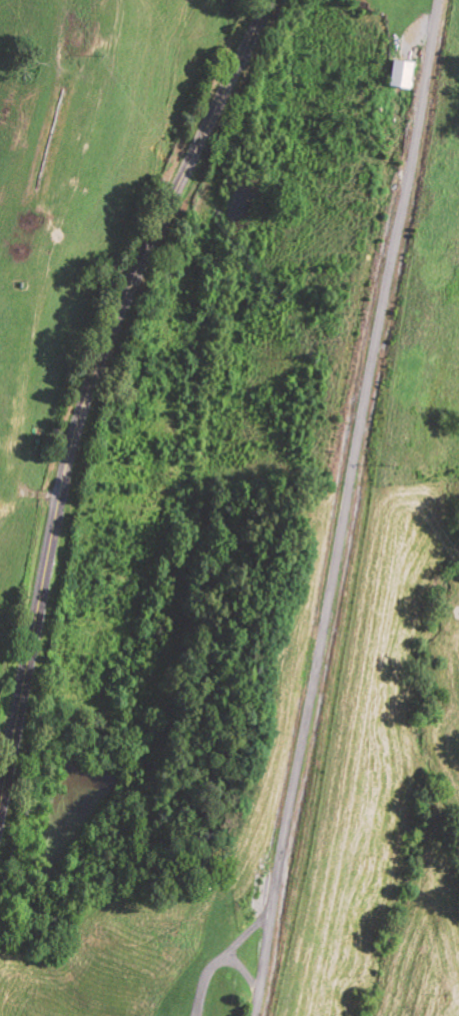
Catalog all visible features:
building: (401, 76)
road: (89, 390)
road: (346, 507)

